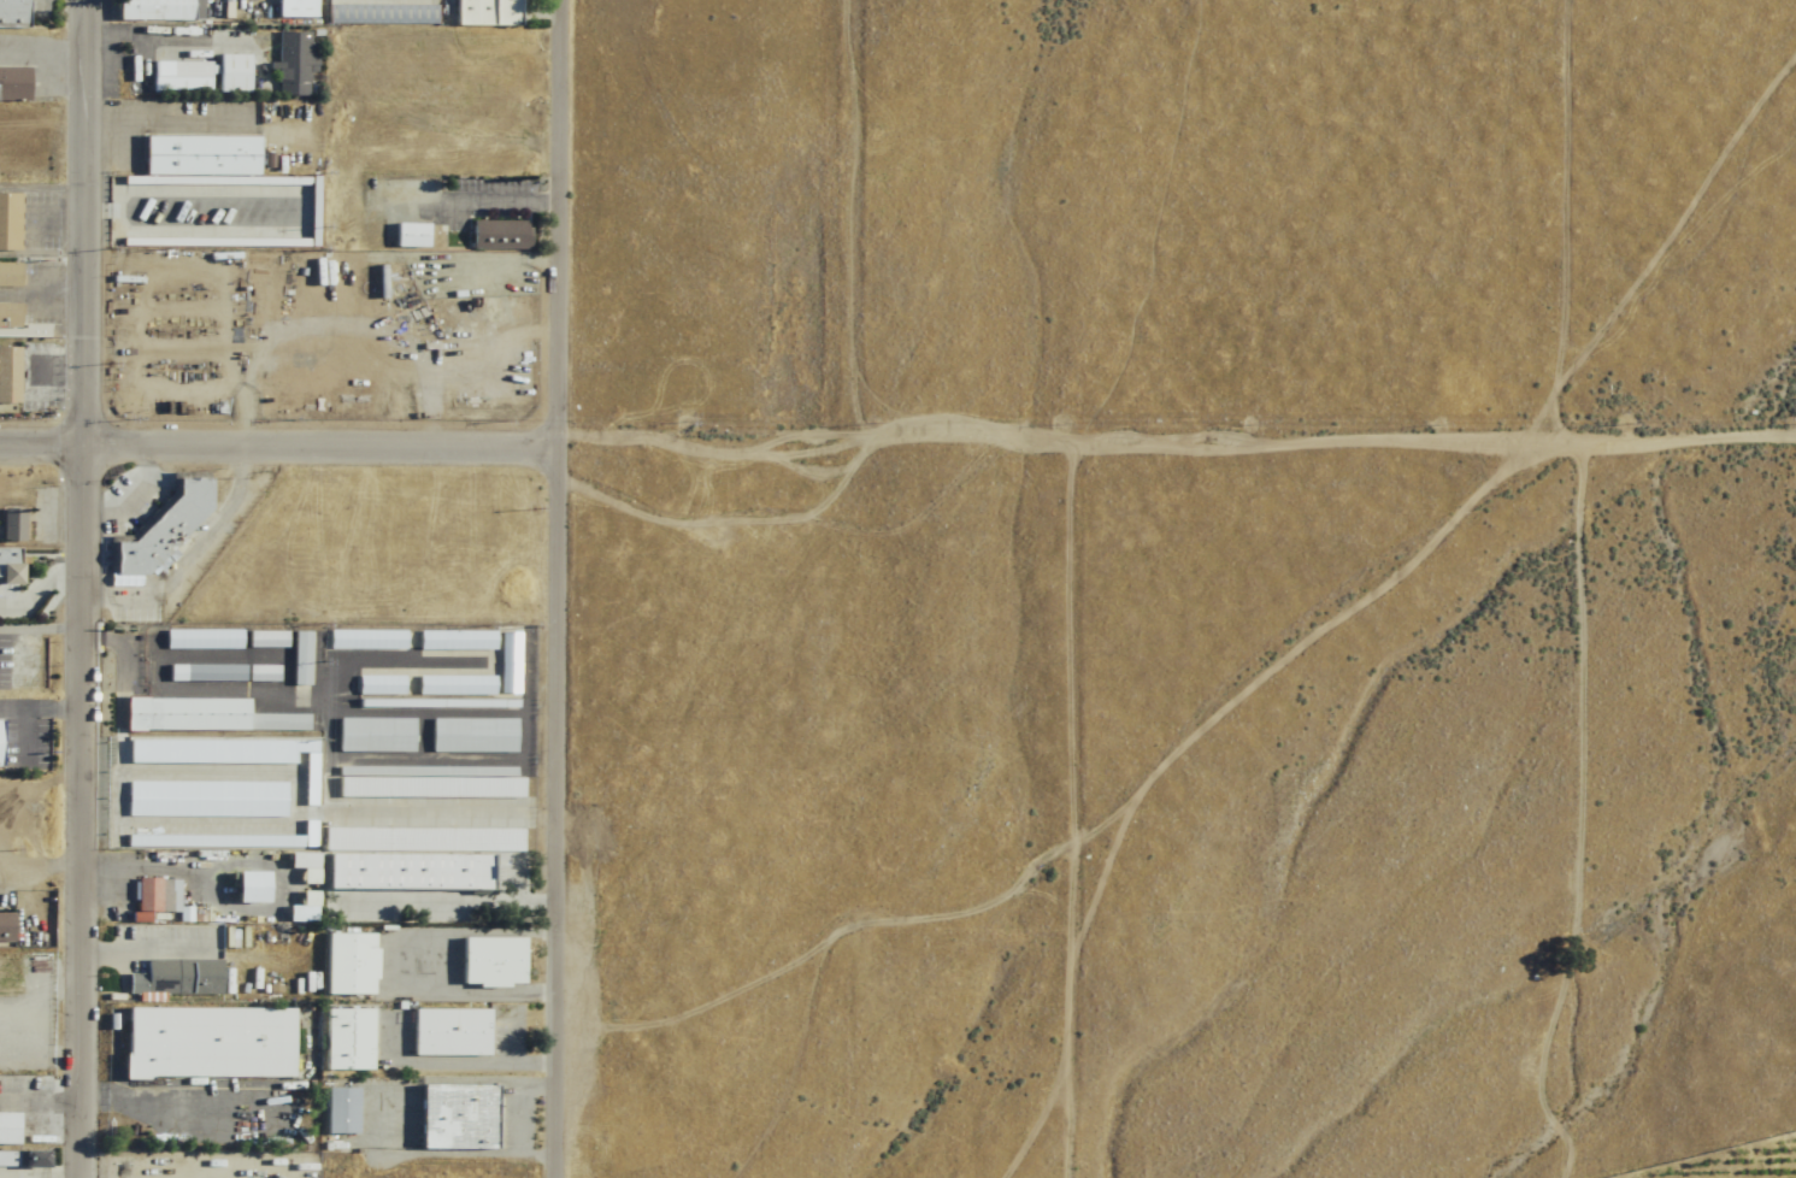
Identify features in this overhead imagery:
building: (152, 10)
building: (483, 12)
building: (12, 13)
building: (378, 13)
road: (43, 51)
building: (292, 61)
building: (230, 72)
building: (178, 76)
building: (12, 83)
road: (169, 119)
building: (198, 154)
road: (855, 218)
building: (8, 222)
building: (407, 234)
building: (497, 234)
building: (7, 275)
road: (42, 293)
building: (8, 316)
building: (7, 375)
road: (714, 434)
road: (1332, 441)
road: (281, 446)
road: (131, 495)
building: (10, 524)
building: (159, 528)
road: (188, 552)
building: (6, 565)
road: (39, 583)
road: (83, 589)
road: (558, 589)
road: (1580, 589)
road: (76, 628)
building: (198, 638)
building: (263, 638)
building: (363, 638)
building: (453, 638)
building: (296, 656)
building: (507, 661)
building: (202, 672)
building: (259, 672)
building: (378, 684)
building: (454, 684)
road: (40, 703)
building: (202, 715)
road: (23, 734)
building: (373, 734)
building: (471, 734)
building: (426, 781)
building: (454, 815)
building: (420, 838)
building: (404, 871)
building: (246, 887)
building: (154, 894)
building: (6, 926)
road: (147, 948)
building: (489, 961)
building: (346, 964)
building: (175, 977)
building: (447, 1032)
building: (346, 1039)
building: (205, 1043)
road: (500, 1061)
building: (338, 1111)
building: (455, 1117)
building: (7, 1129)
building: (22, 1159)

